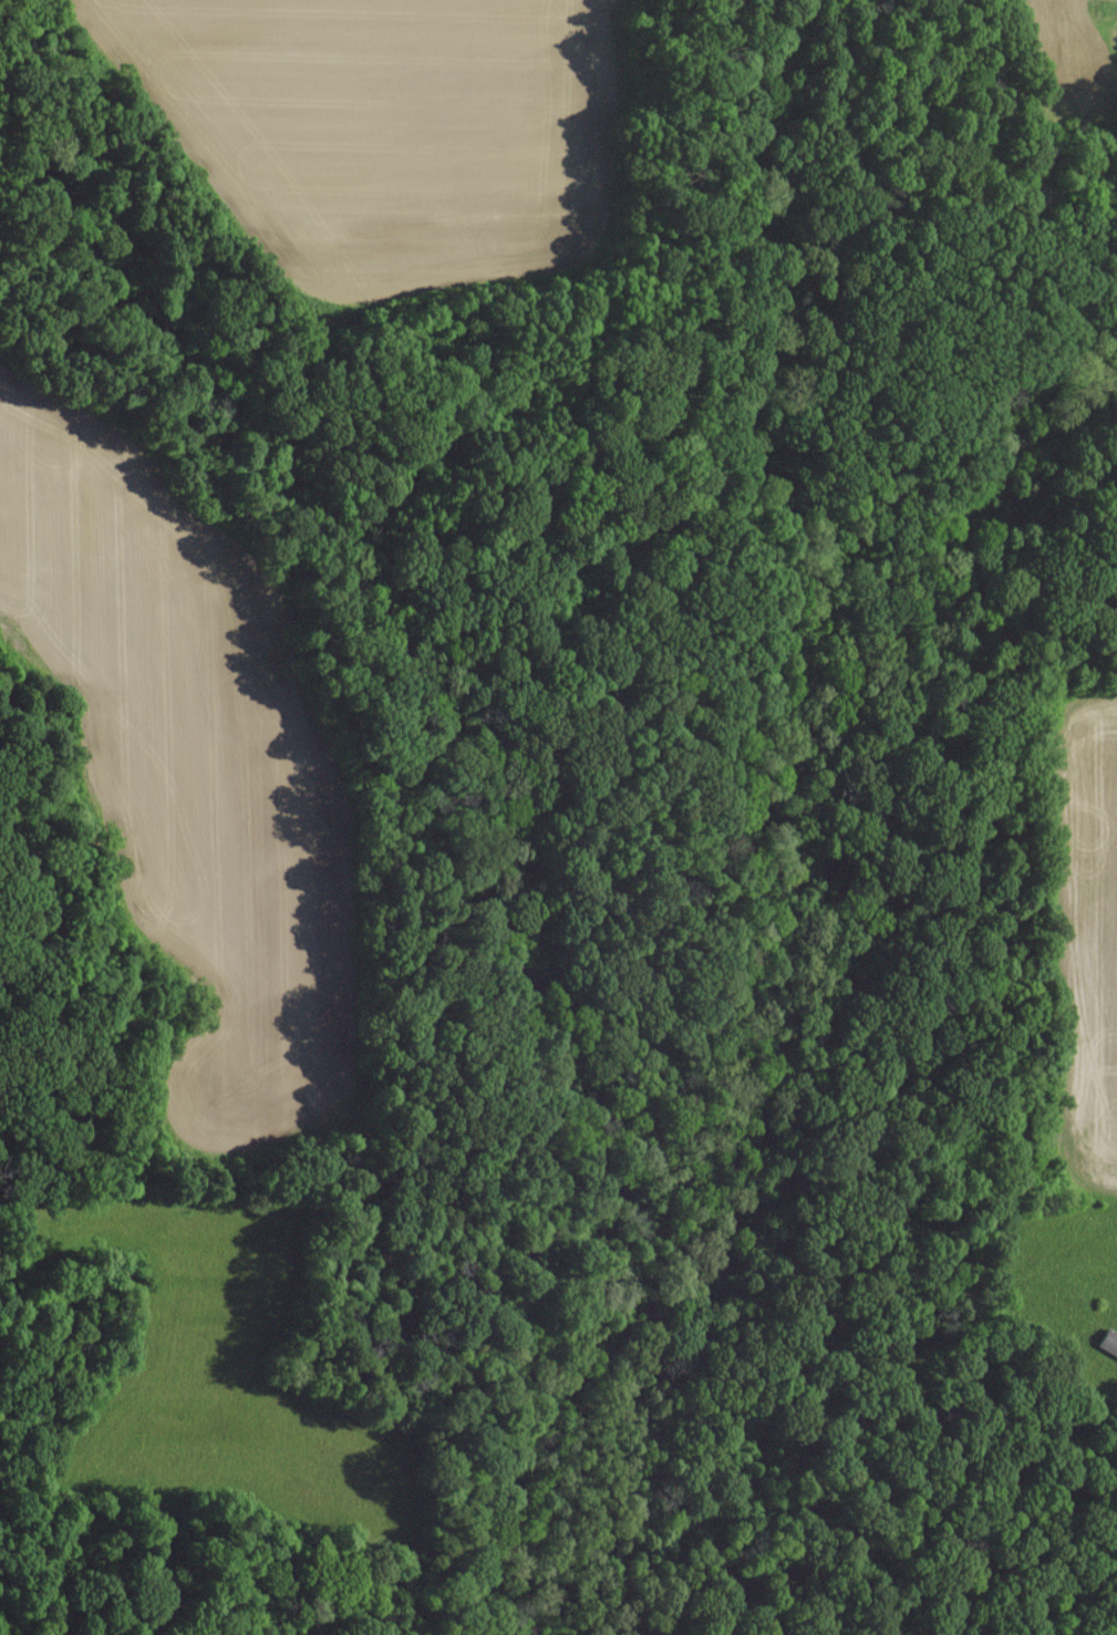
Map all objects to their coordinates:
building: (1109, 1342)

